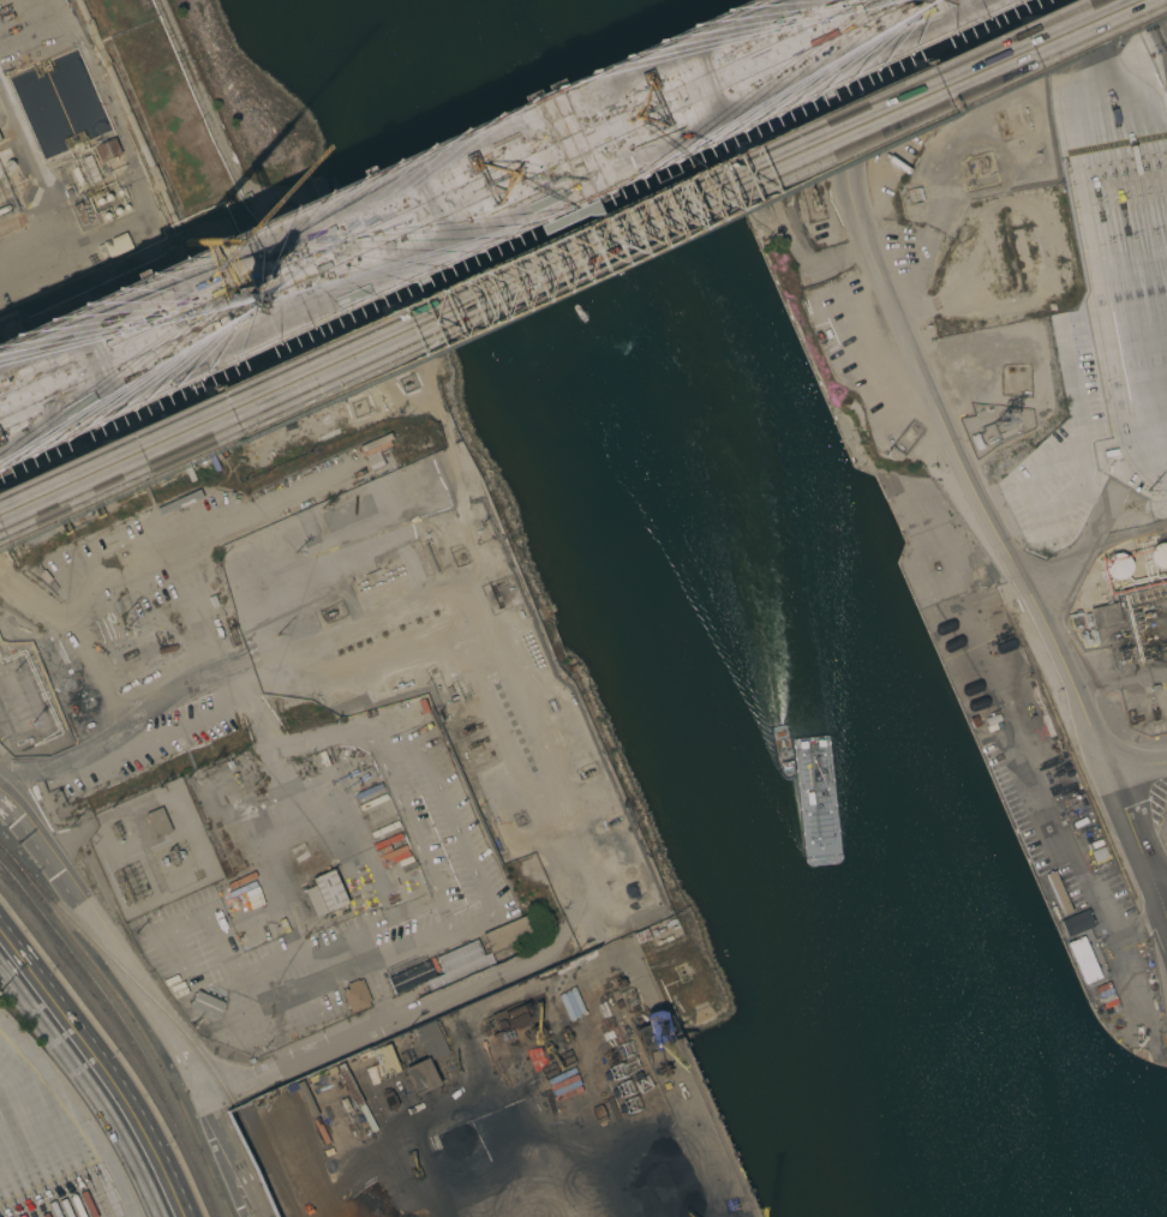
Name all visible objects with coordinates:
power plant: (70, 174)
road: (395, 184)
road: (1129, 197)
petroleum well: (813, 204)
road: (469, 217)
building: (116, 245)
road: (947, 425)
building: (1157, 556)
building: (1117, 565)
building: (1103, 616)
road: (252, 720)
road: (119, 733)
road: (337, 733)
road: (394, 745)
building: (378, 802)
road: (318, 813)
building: (157, 822)
road: (451, 833)
road: (412, 837)
road: (1141, 841)
power substation: (152, 850)
road: (1069, 856)
road: (1161, 877)
building: (328, 891)
building: (1058, 893)
building: (1077, 923)
road: (468, 924)
road: (168, 930)
road: (363, 931)
building: (508, 934)
road: (107, 943)
road: (299, 954)
building: (1083, 960)
building: (409, 977)
building: (355, 996)
railway: (167, 1013)
railway: (134, 1020)
railway: (127, 1029)
road: (365, 1029)
road: (102, 1072)
building: (420, 1074)
railway: (275, 1168)

